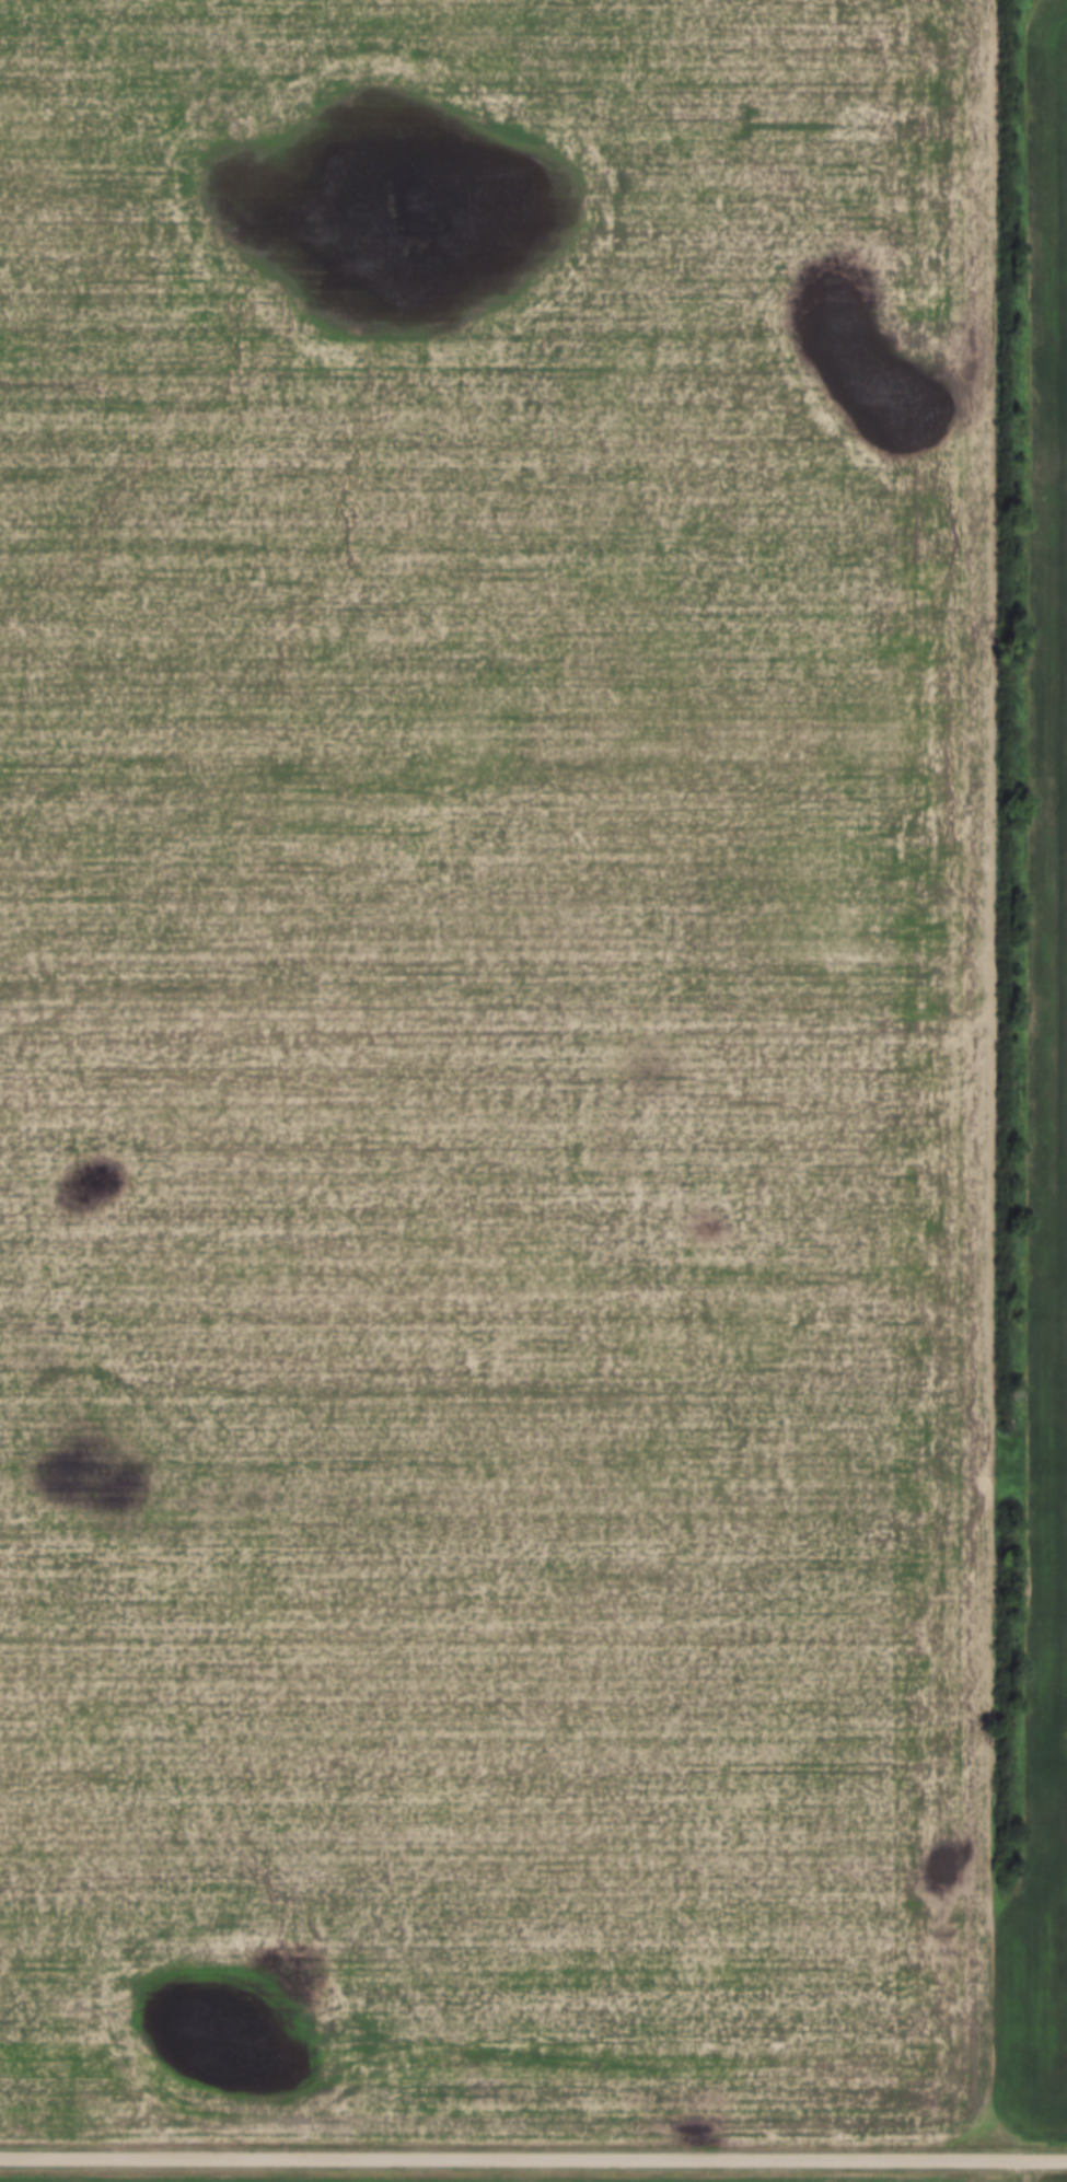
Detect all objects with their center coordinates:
road: (533, 2156)

